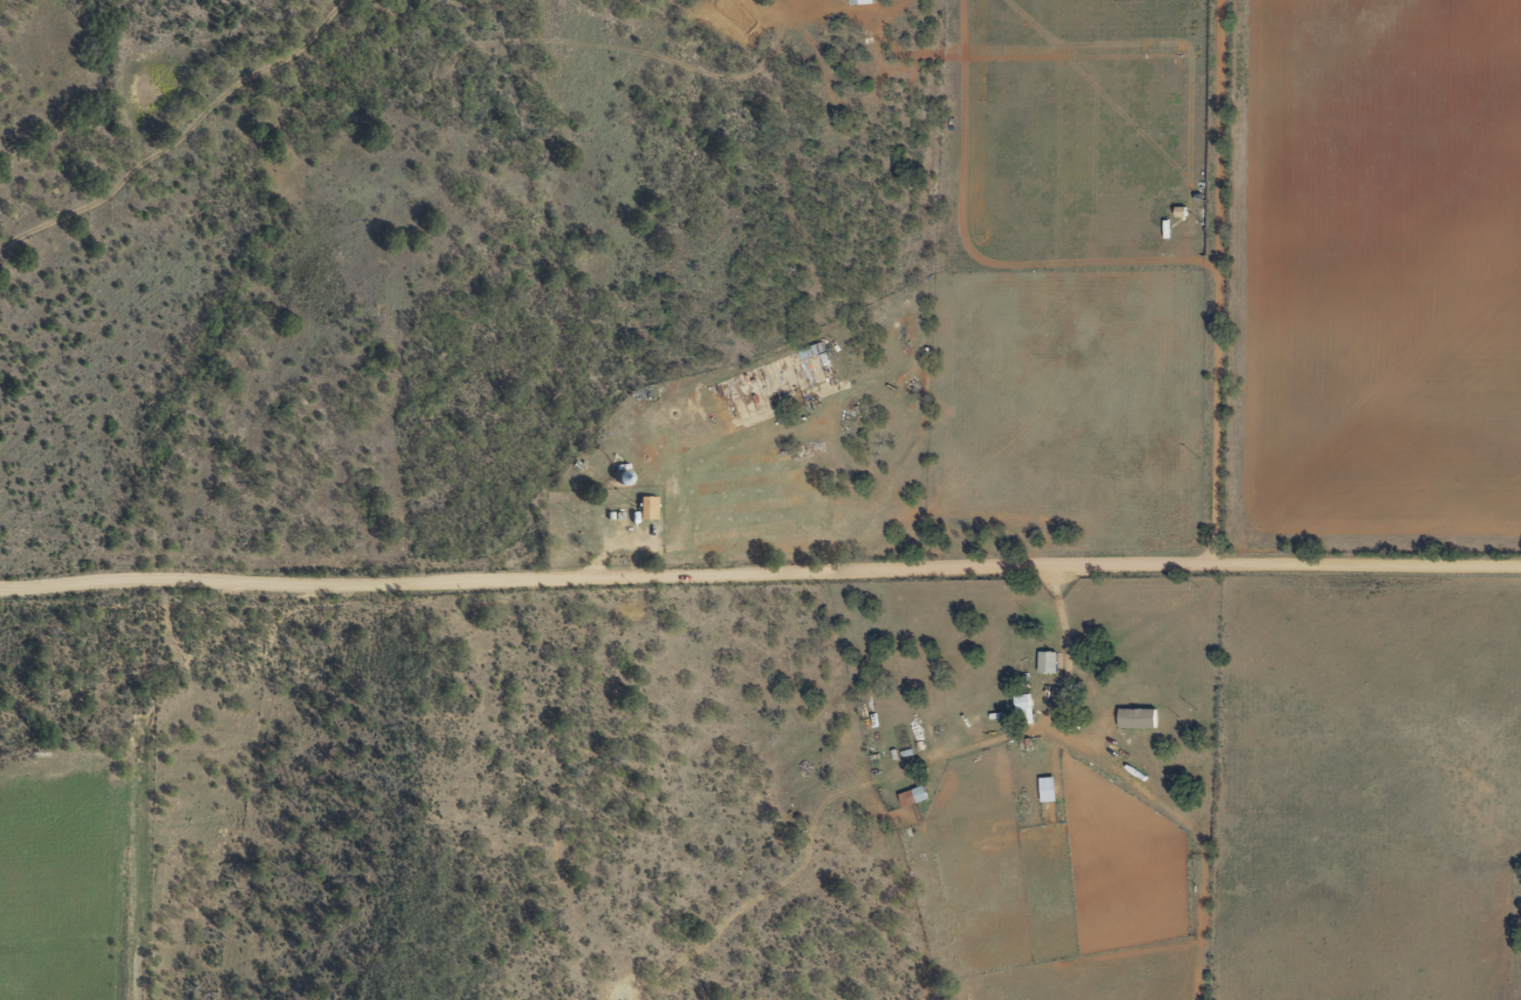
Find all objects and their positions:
road: (154, 145)
road: (1218, 290)
building: (817, 353)
building: (625, 478)
building: (649, 508)
road: (760, 595)
building: (1051, 665)
building: (1140, 719)
road: (850, 783)
building: (916, 797)

